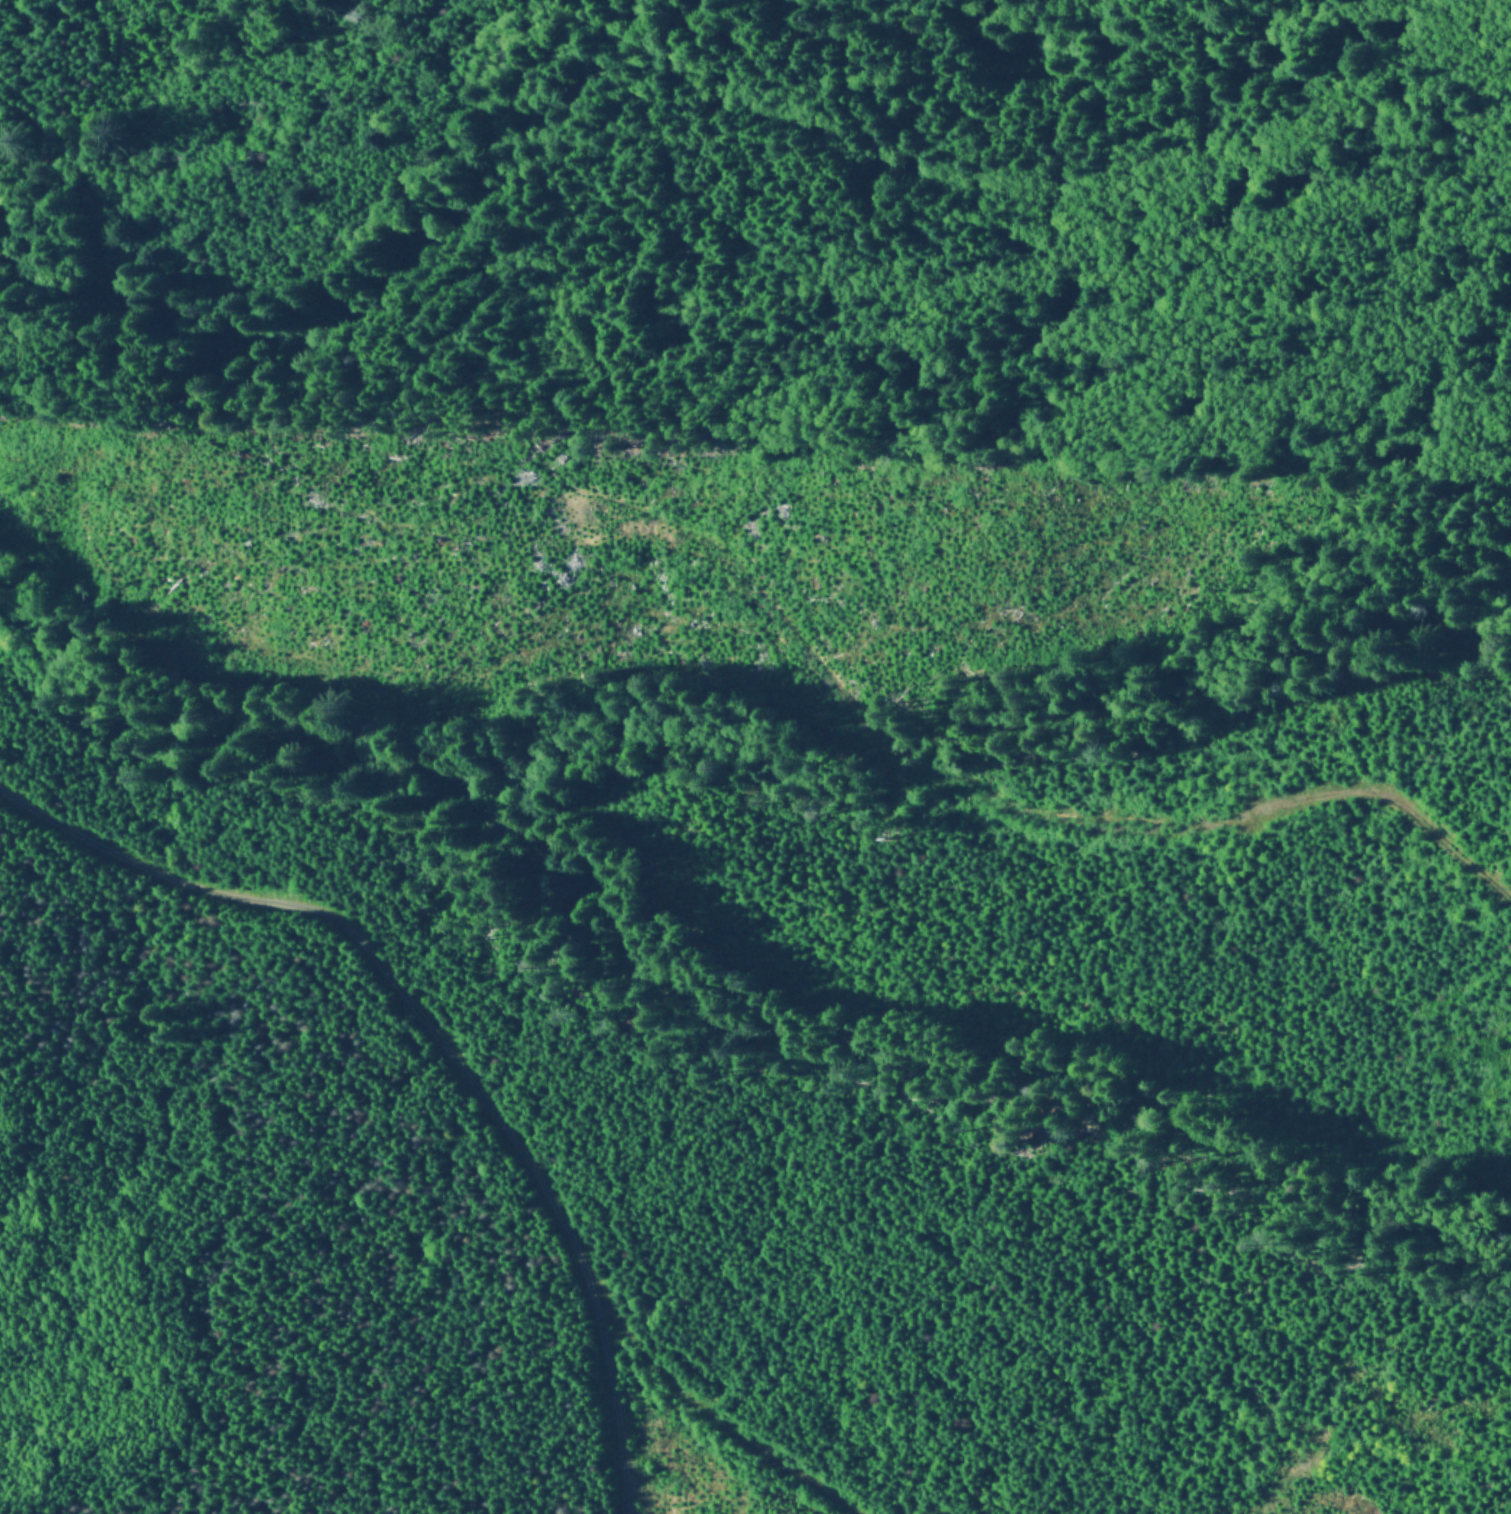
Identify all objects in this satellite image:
road: (236, 135)
road: (1053, 188)
road: (39, 583)
road: (21, 653)
road: (458, 1041)

